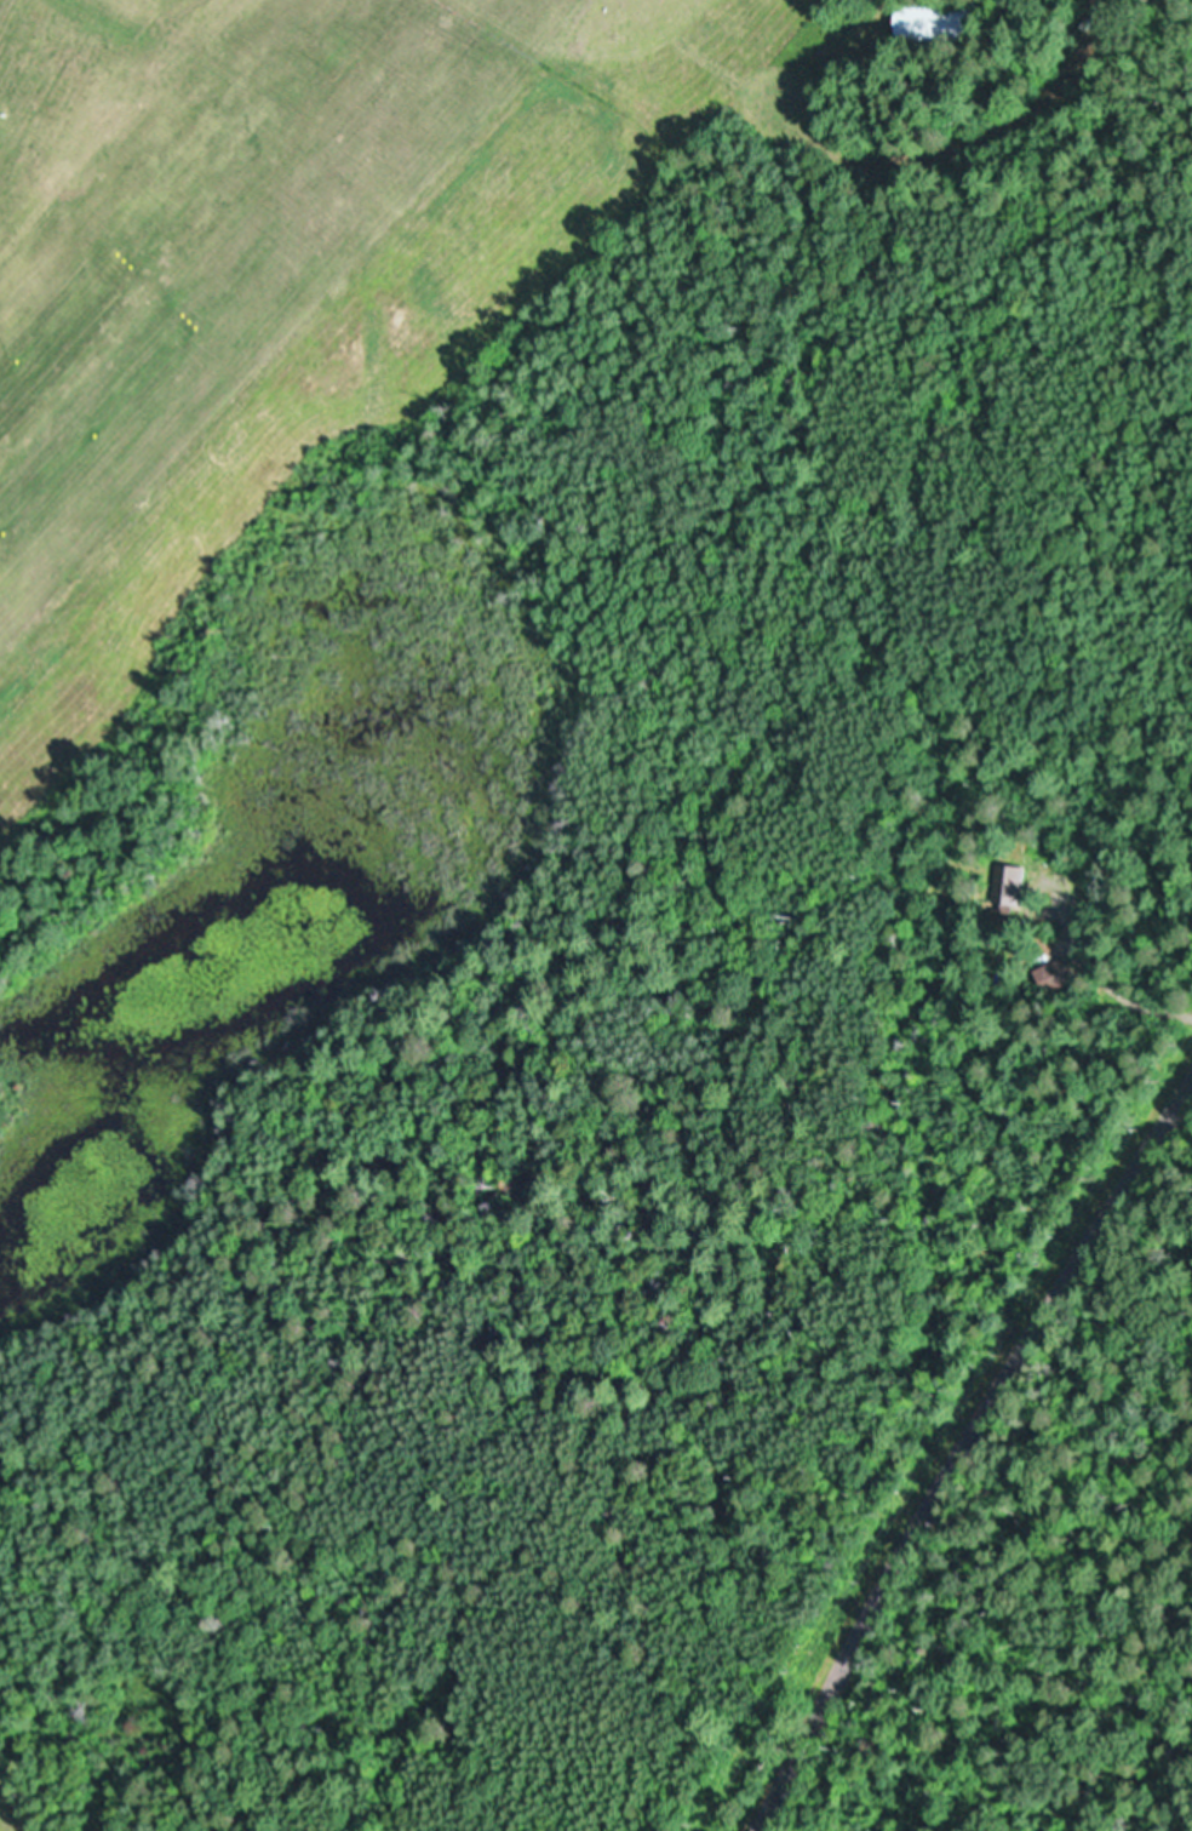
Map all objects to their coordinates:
park: (869, 4)
road: (1130, 85)
airport runway: (74, 368)
airport: (567, 411)
road: (1127, 1415)
road: (957, 1442)

